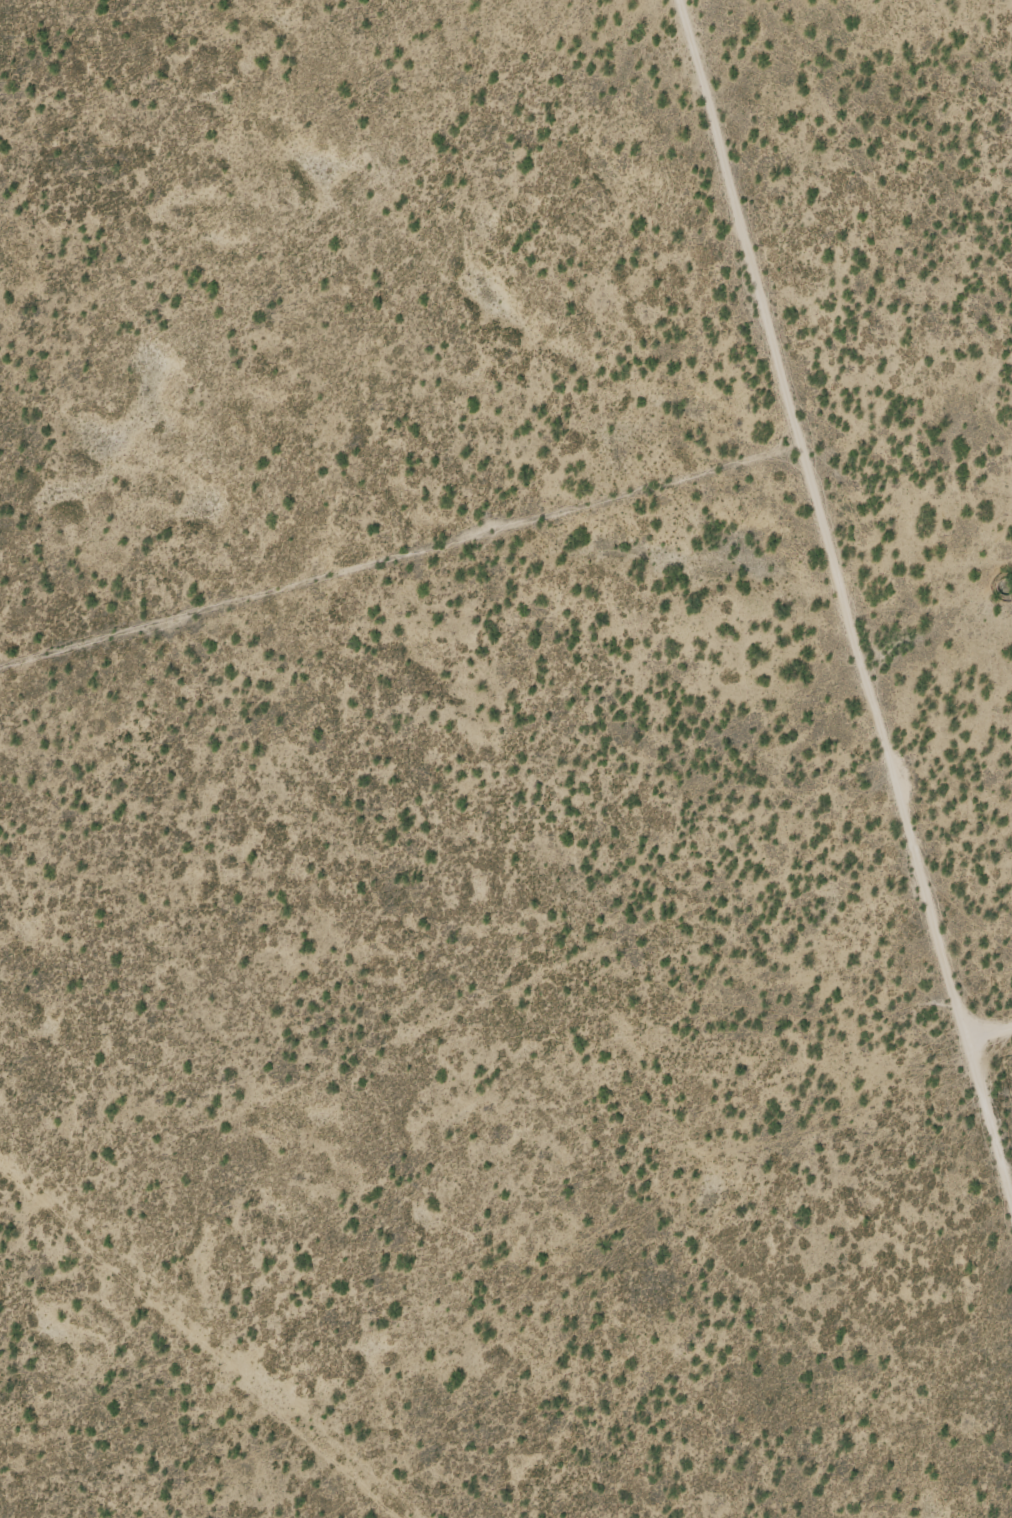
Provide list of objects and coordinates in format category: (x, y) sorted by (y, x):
road: (400, 554)
road: (844, 596)
road: (991, 1030)

